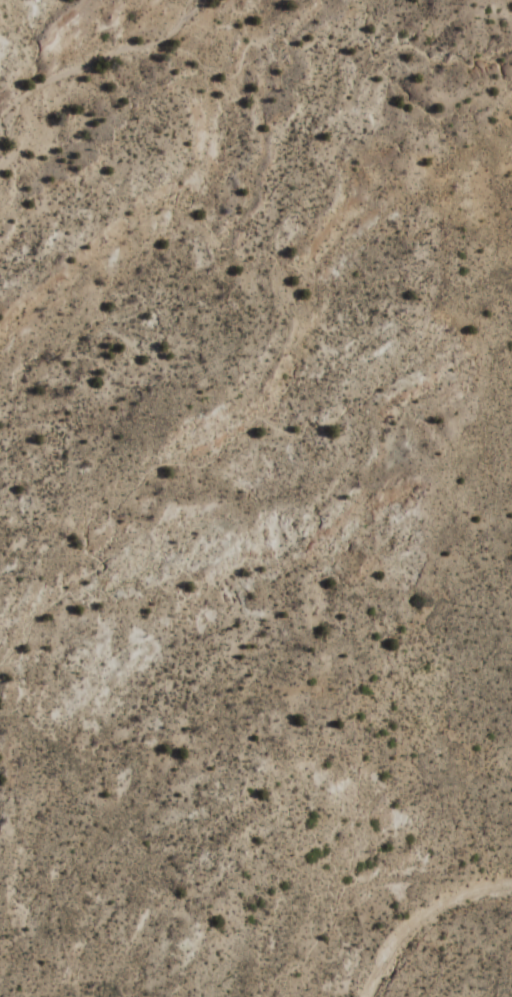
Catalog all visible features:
road: (416, 916)

